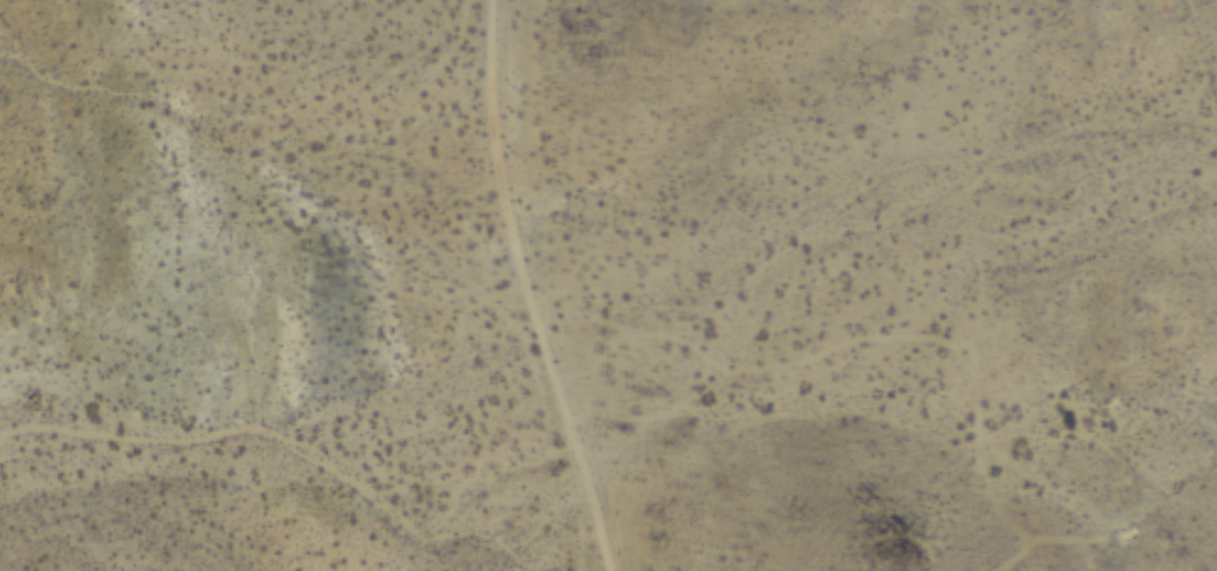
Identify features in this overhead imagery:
road: (520, 289)

